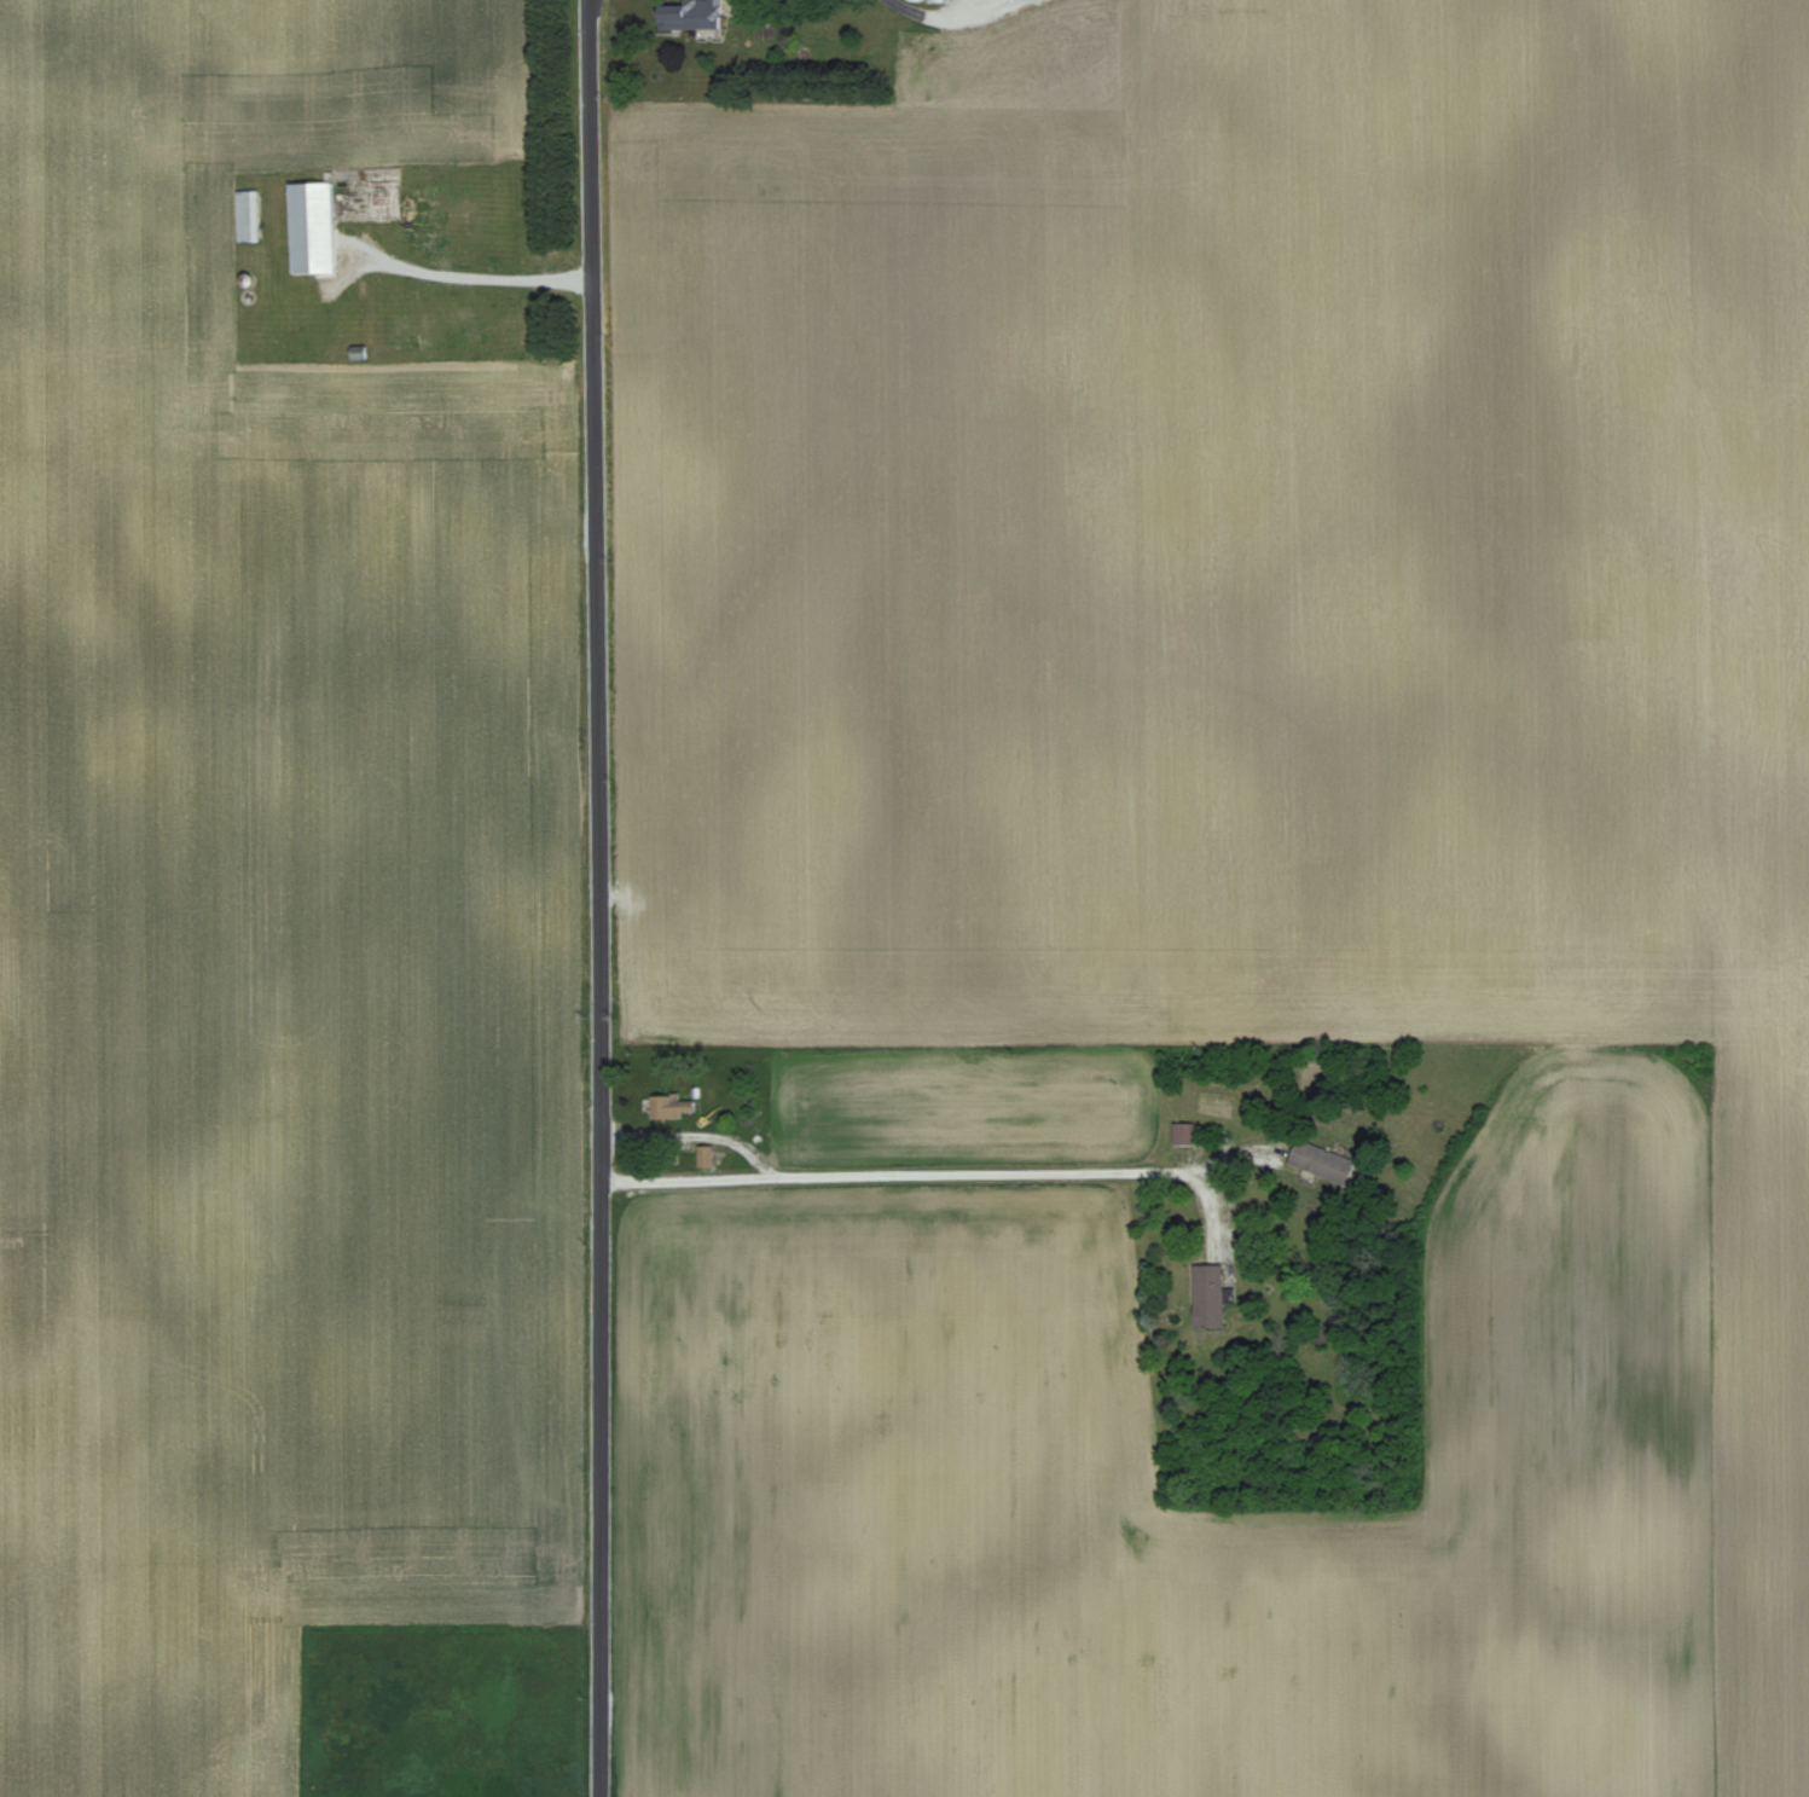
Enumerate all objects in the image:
building: (911, 0)
building: (932, 0)
building: (689, 15)
building: (247, 216)
building: (311, 228)
road: (468, 282)
road: (602, 898)
building: (669, 1107)
road: (696, 1134)
building: (1183, 1134)
building: (1321, 1163)
road: (933, 1173)
building: (1207, 1295)

